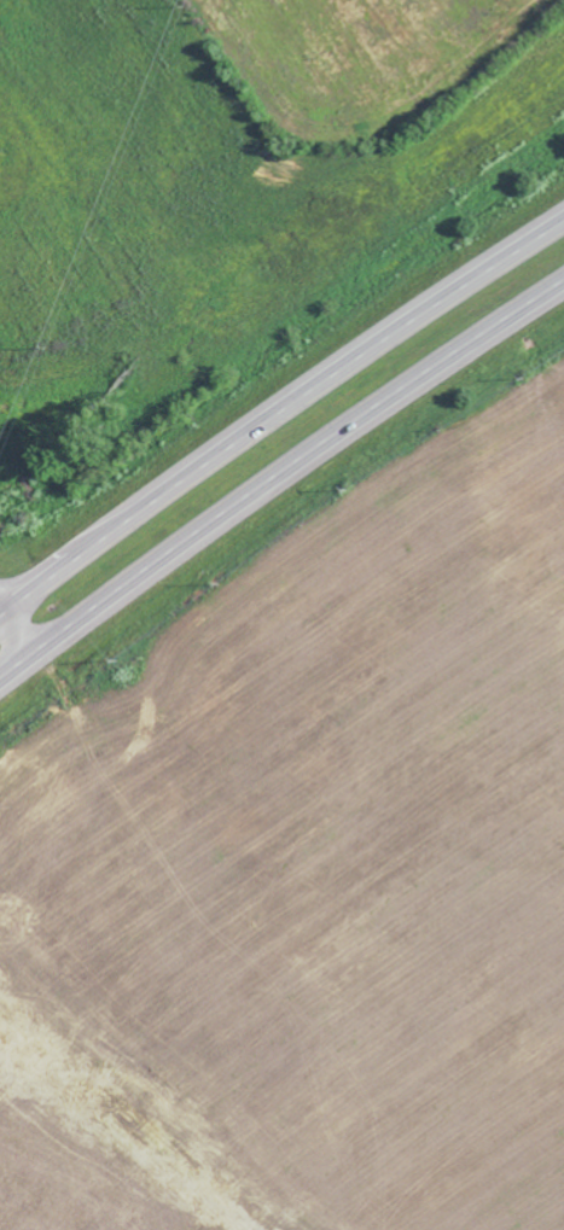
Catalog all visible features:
road: (278, 406)
road: (278, 480)
road: (22, 631)

